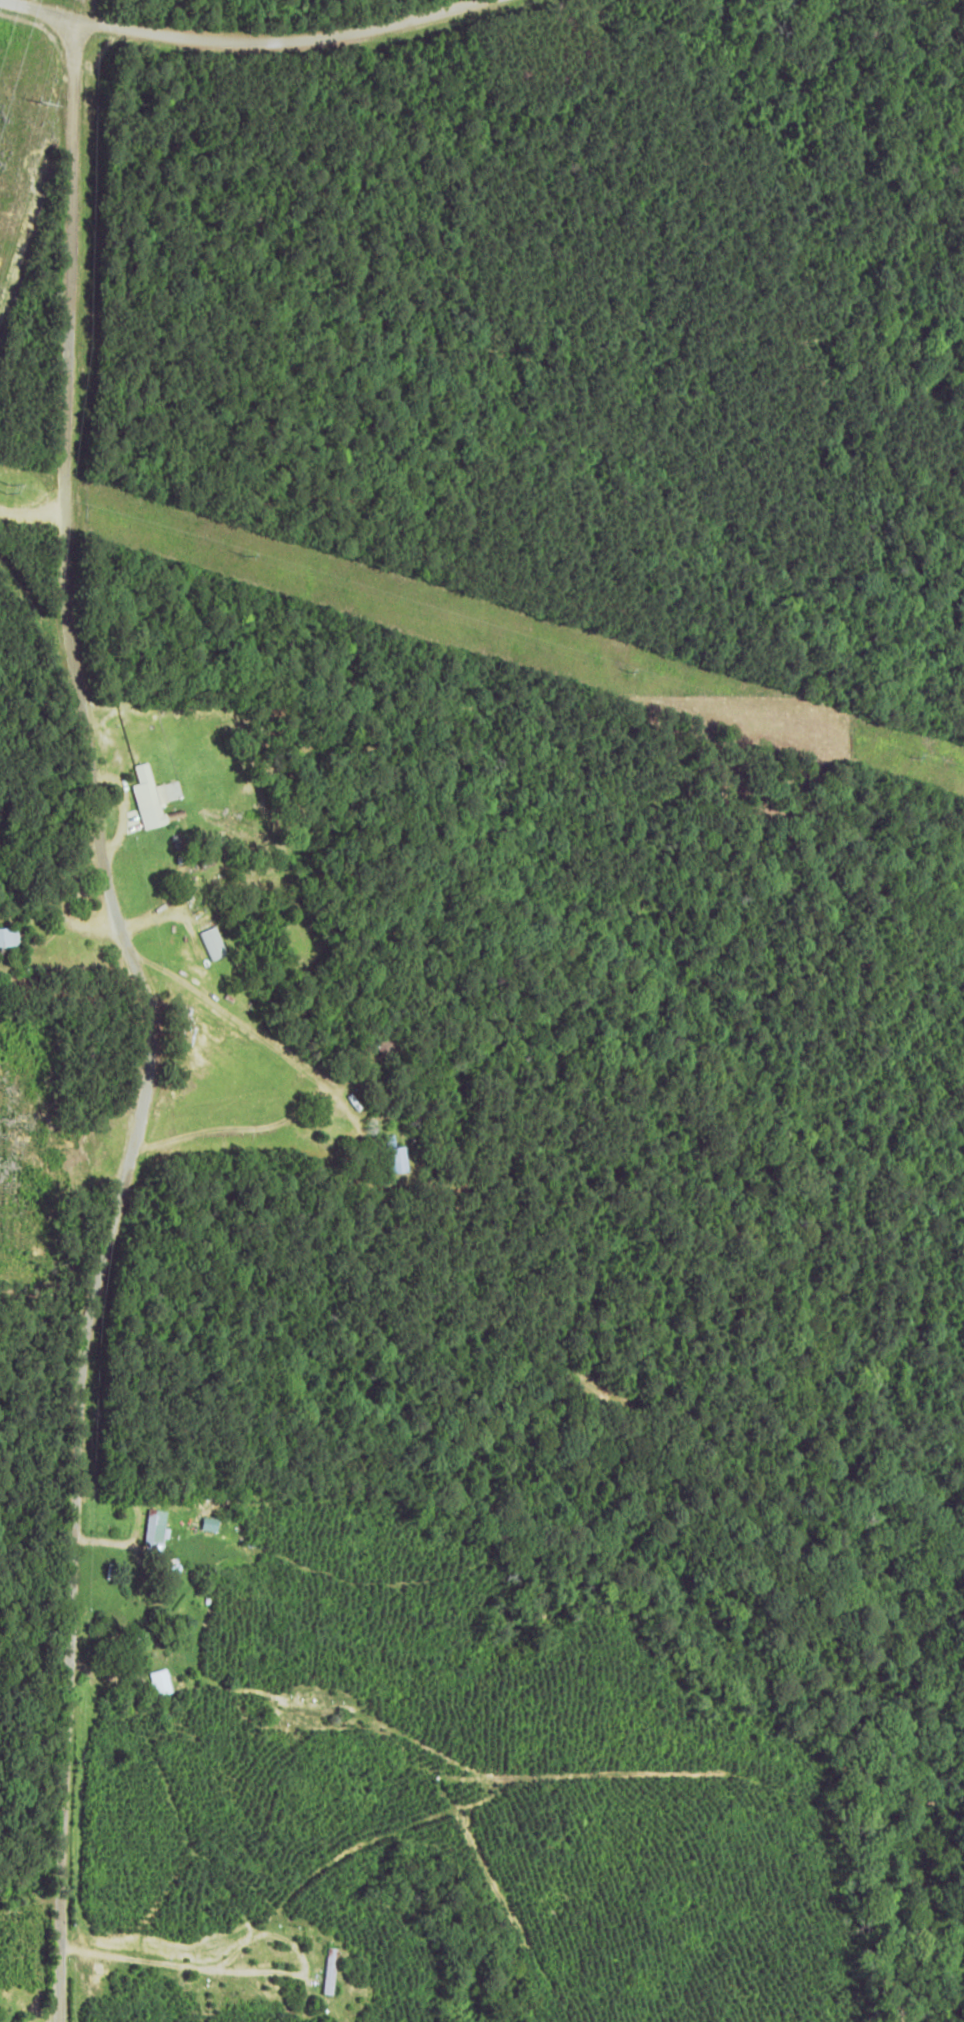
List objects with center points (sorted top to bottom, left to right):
road: (261, 62)
power tower: (2, 493)
power tower: (241, 554)
power tower: (621, 669)
power tower: (906, 757)
building: (154, 796)
building: (8, 936)
building: (212, 942)
road: (135, 1041)
building: (392, 1156)
building: (209, 1523)
building: (154, 1527)
building: (157, 1681)

